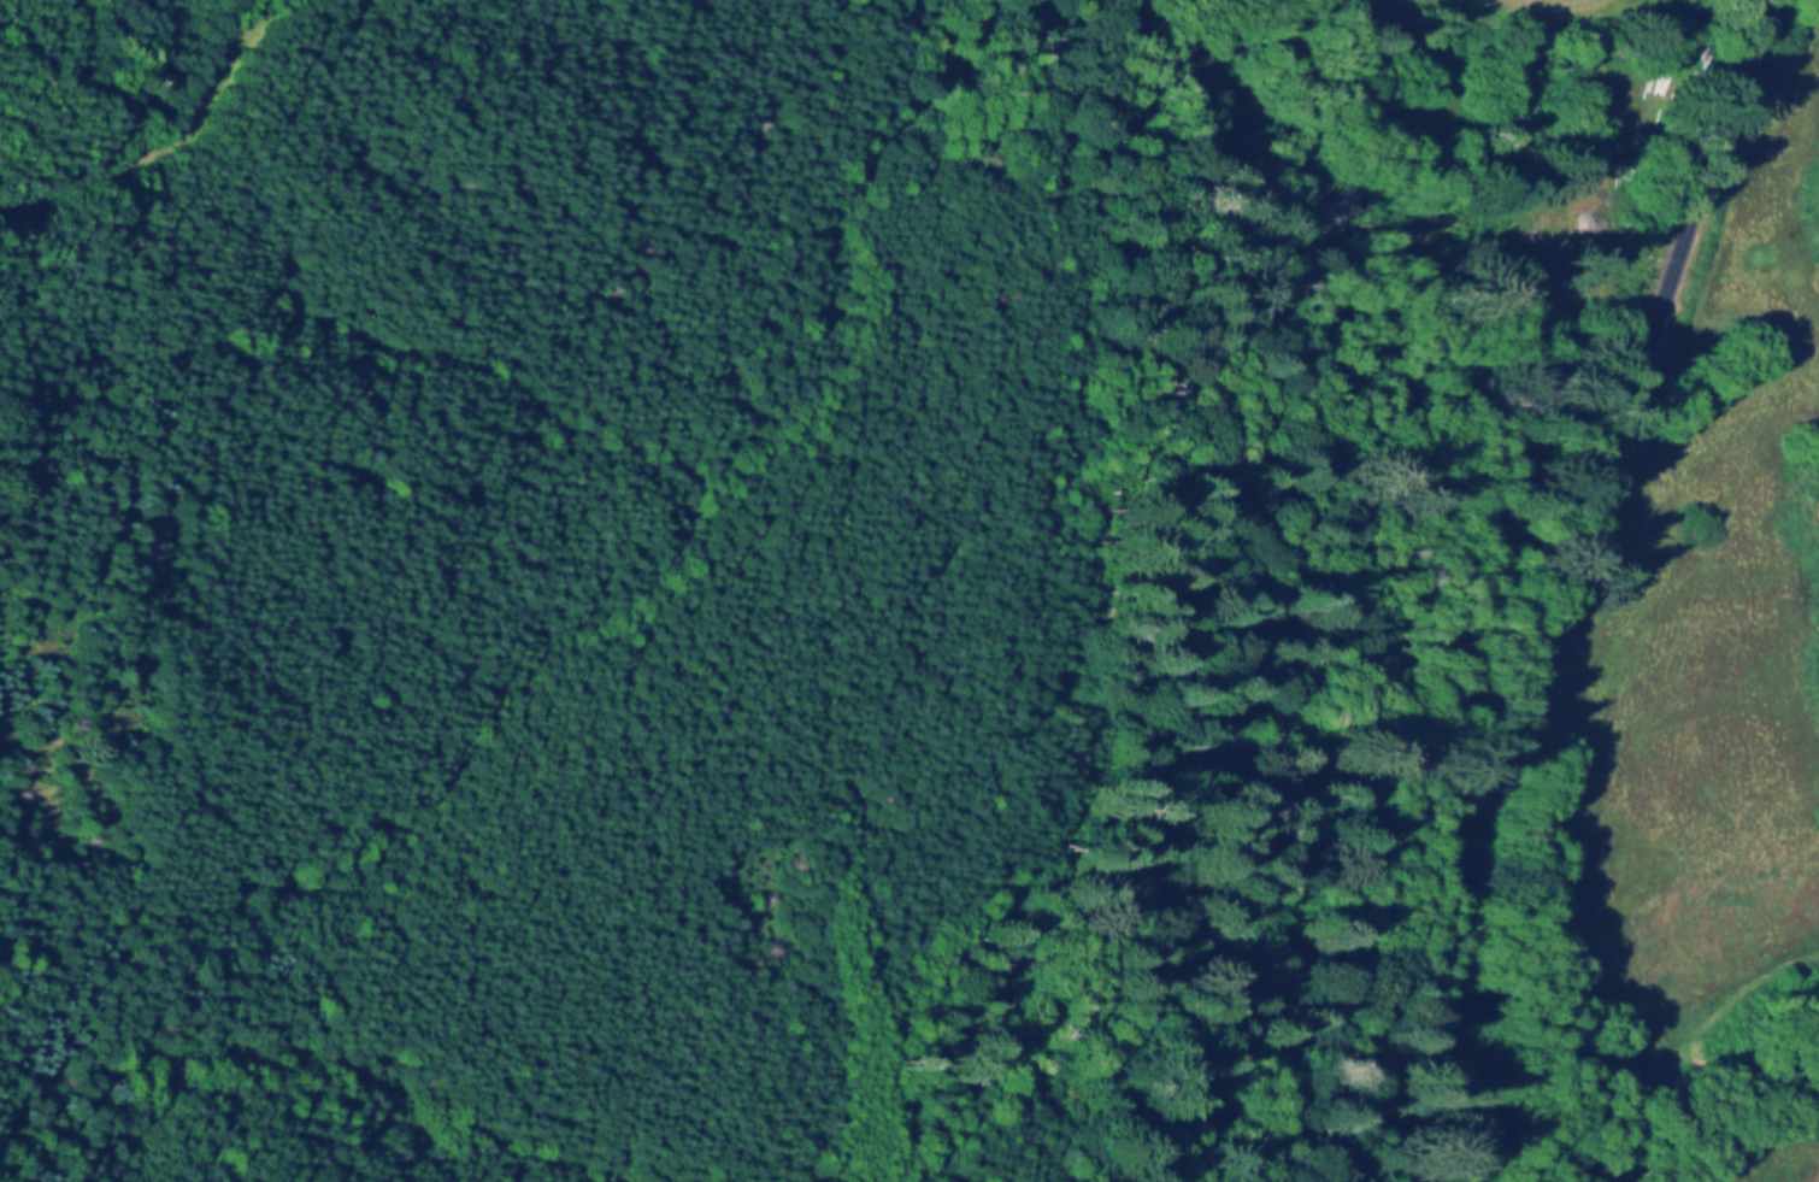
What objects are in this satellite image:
road: (1564, 583)

